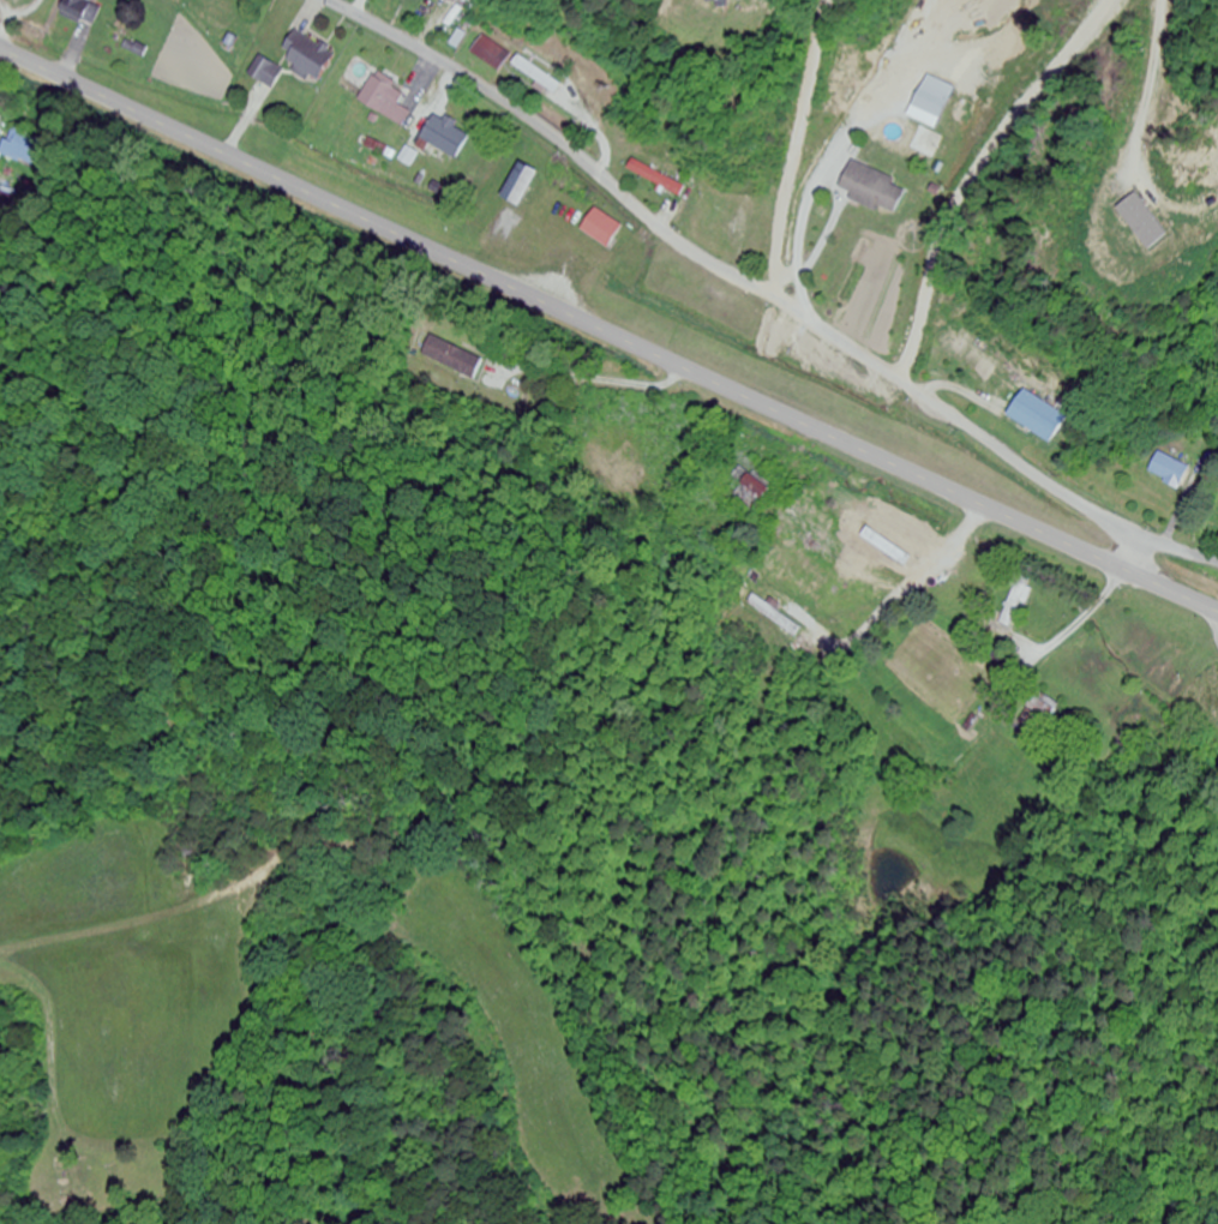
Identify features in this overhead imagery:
building: (414, 0)
building: (446, 1)
building: (722, 2)
building: (80, 13)
building: (488, 54)
building: (306, 58)
building: (266, 74)
building: (535, 76)
building: (931, 97)
building: (384, 102)
building: (445, 138)
building: (22, 148)
building: (655, 180)
building: (871, 190)
building: (601, 228)
road: (763, 295)
road: (607, 334)
building: (1034, 416)
building: (1168, 470)
building: (752, 490)
building: (899, 542)
road: (1127, 551)
building: (1019, 594)
building: (784, 622)
building: (1000, 659)
building: (1044, 709)

